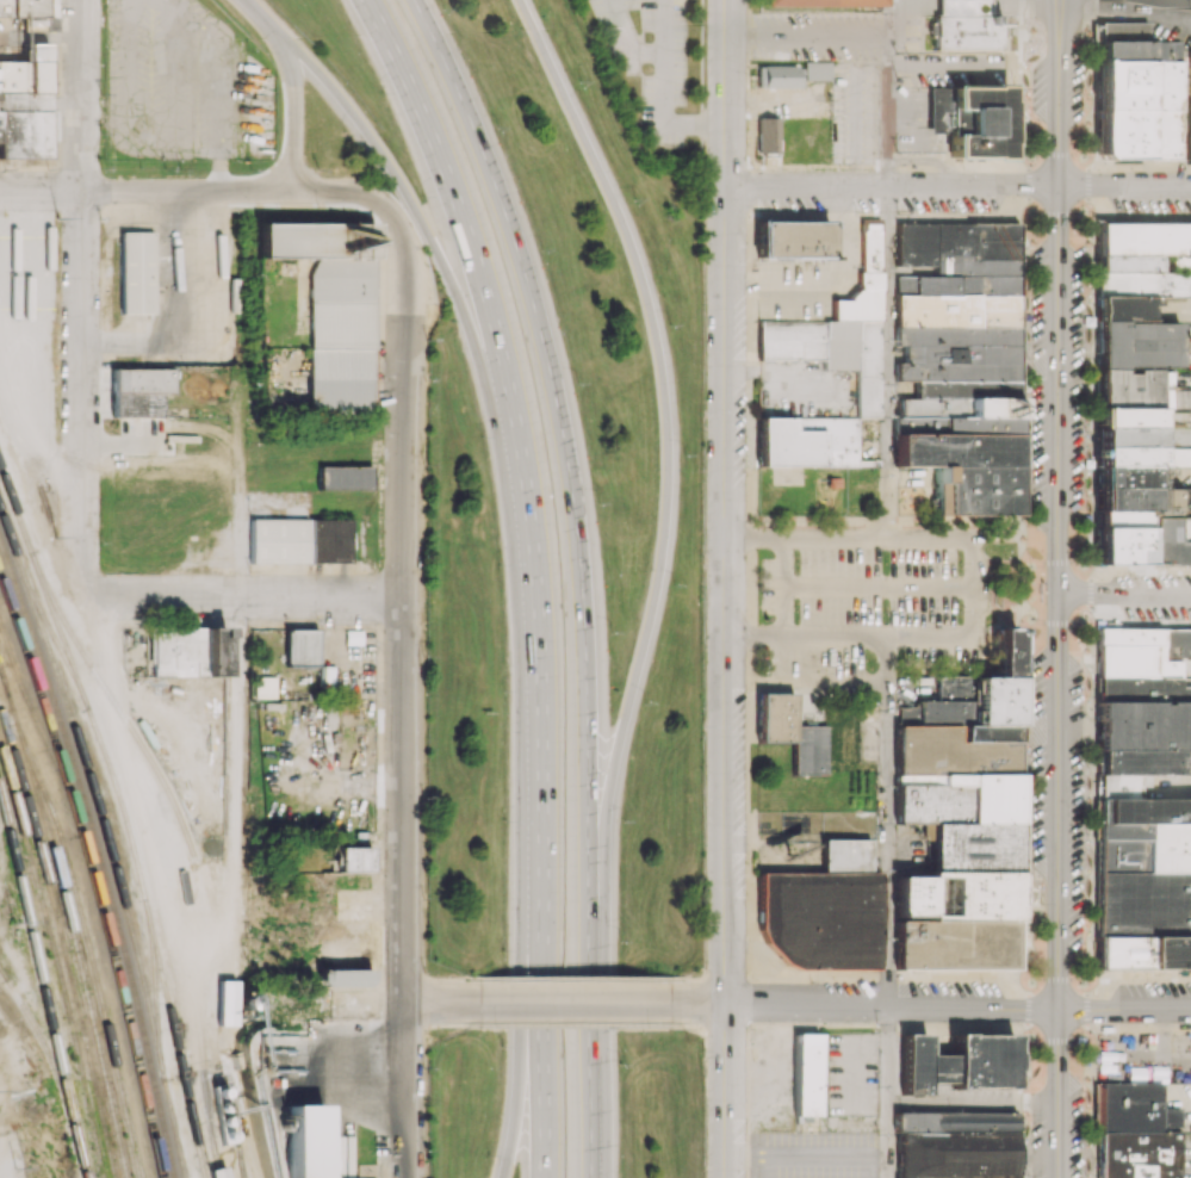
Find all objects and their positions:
road: (1177, 1)
building: (820, 5)
building: (23, 7)
building: (961, 7)
road: (259, 15)
building: (963, 33)
road: (807, 36)
road: (626, 38)
building: (1189, 57)
building: (815, 70)
building: (780, 76)
road: (663, 91)
road: (887, 94)
building: (1136, 94)
building: (24, 104)
road: (293, 110)
building: (970, 119)
building: (767, 135)
building: (1189, 135)
road: (959, 188)
road: (191, 191)
building: (794, 238)
road: (477, 267)
road: (446, 268)
building: (136, 272)
building: (902, 285)
road: (82, 294)
building: (330, 310)
building: (839, 329)
building: (960, 362)
road: (886, 364)
building: (1137, 384)
building: (139, 391)
road: (668, 405)
building: (1038, 430)
building: (806, 441)
road: (570, 467)
building: (343, 477)
road: (726, 502)
road: (240, 508)
road: (756, 538)
road: (836, 539)
road: (929, 539)
building: (299, 540)
building: (1170, 542)
road: (786, 564)
road: (879, 588)
road: (1057, 588)
road: (973, 589)
road: (1124, 595)
road: (249, 596)
road: (404, 600)
parking lot: (874, 609)
road: (786, 614)
railway: (52, 632)
road: (756, 638)
road: (879, 639)
building: (918, 646)
building: (300, 647)
building: (186, 651)
road: (786, 661)
railway: (14, 675)
road: (836, 683)
building: (263, 687)
railway: (6, 692)
railway: (114, 702)
road: (123, 711)
road: (536, 721)
railway: (41, 727)
building: (792, 732)
railway: (108, 765)
road: (354, 780)
road: (237, 799)
building: (1142, 800)
building: (961, 820)
road: (887, 823)
railway: (107, 838)
railway: (100, 851)
building: (354, 858)
railway: (93, 872)
road: (598, 900)
building: (823, 911)
railway: (82, 917)
railway: (63, 943)
railway: (76, 948)
road: (534, 955)
railway: (56, 961)
railway: (4, 973)
building: (343, 976)
road: (725, 978)
road: (447, 980)
road: (689, 980)
railway: (43, 984)
road: (571, 984)
road: (428, 1002)
road: (435, 1002)
road: (571, 1003)
road: (933, 1006)
road: (571, 1021)
road: (446, 1022)
road: (690, 1024)
road: (726, 1028)
road: (541, 1035)
railway: (175, 1037)
railway: (43, 1040)
building: (957, 1062)
road: (595, 1069)
building: (806, 1074)
road: (405, 1090)
road: (726, 1091)
road: (887, 1092)
road: (516, 1097)
building: (1135, 1133)
building: (955, 1145)
building: (219, 1172)

